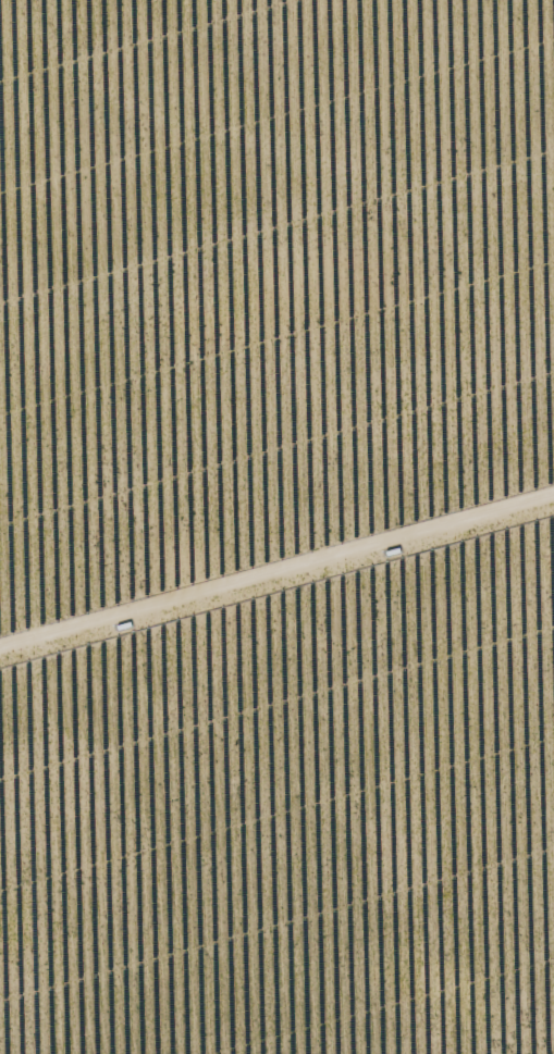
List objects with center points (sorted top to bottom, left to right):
solar farm: (276, 526)

